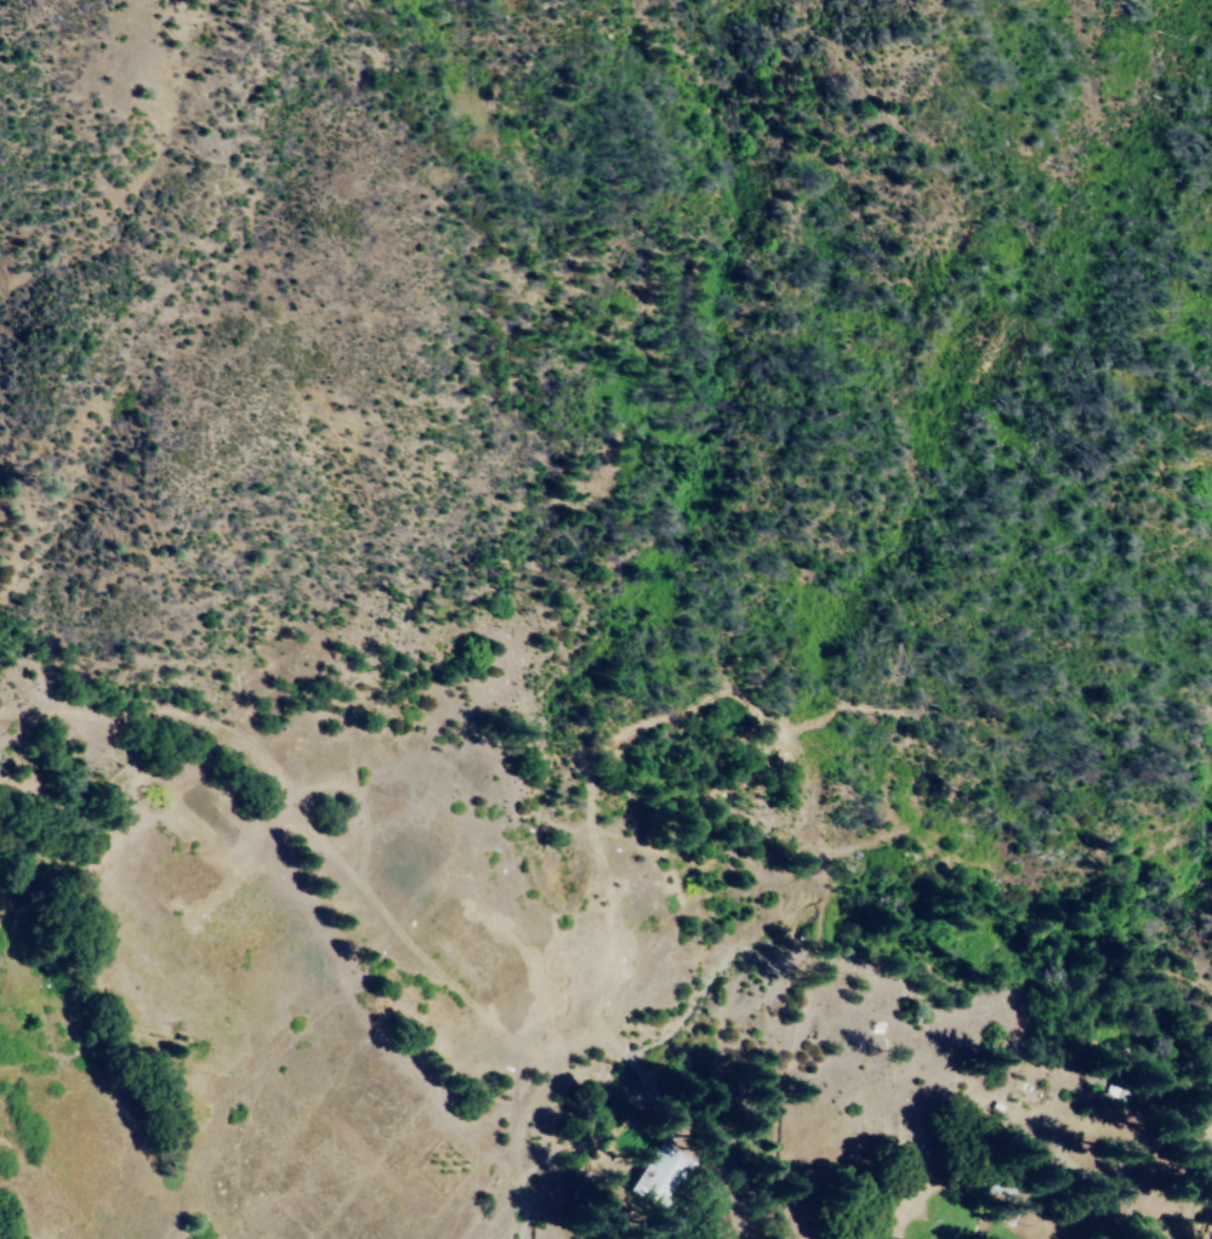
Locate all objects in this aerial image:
building: (662, 1171)
road: (1122, 1200)

